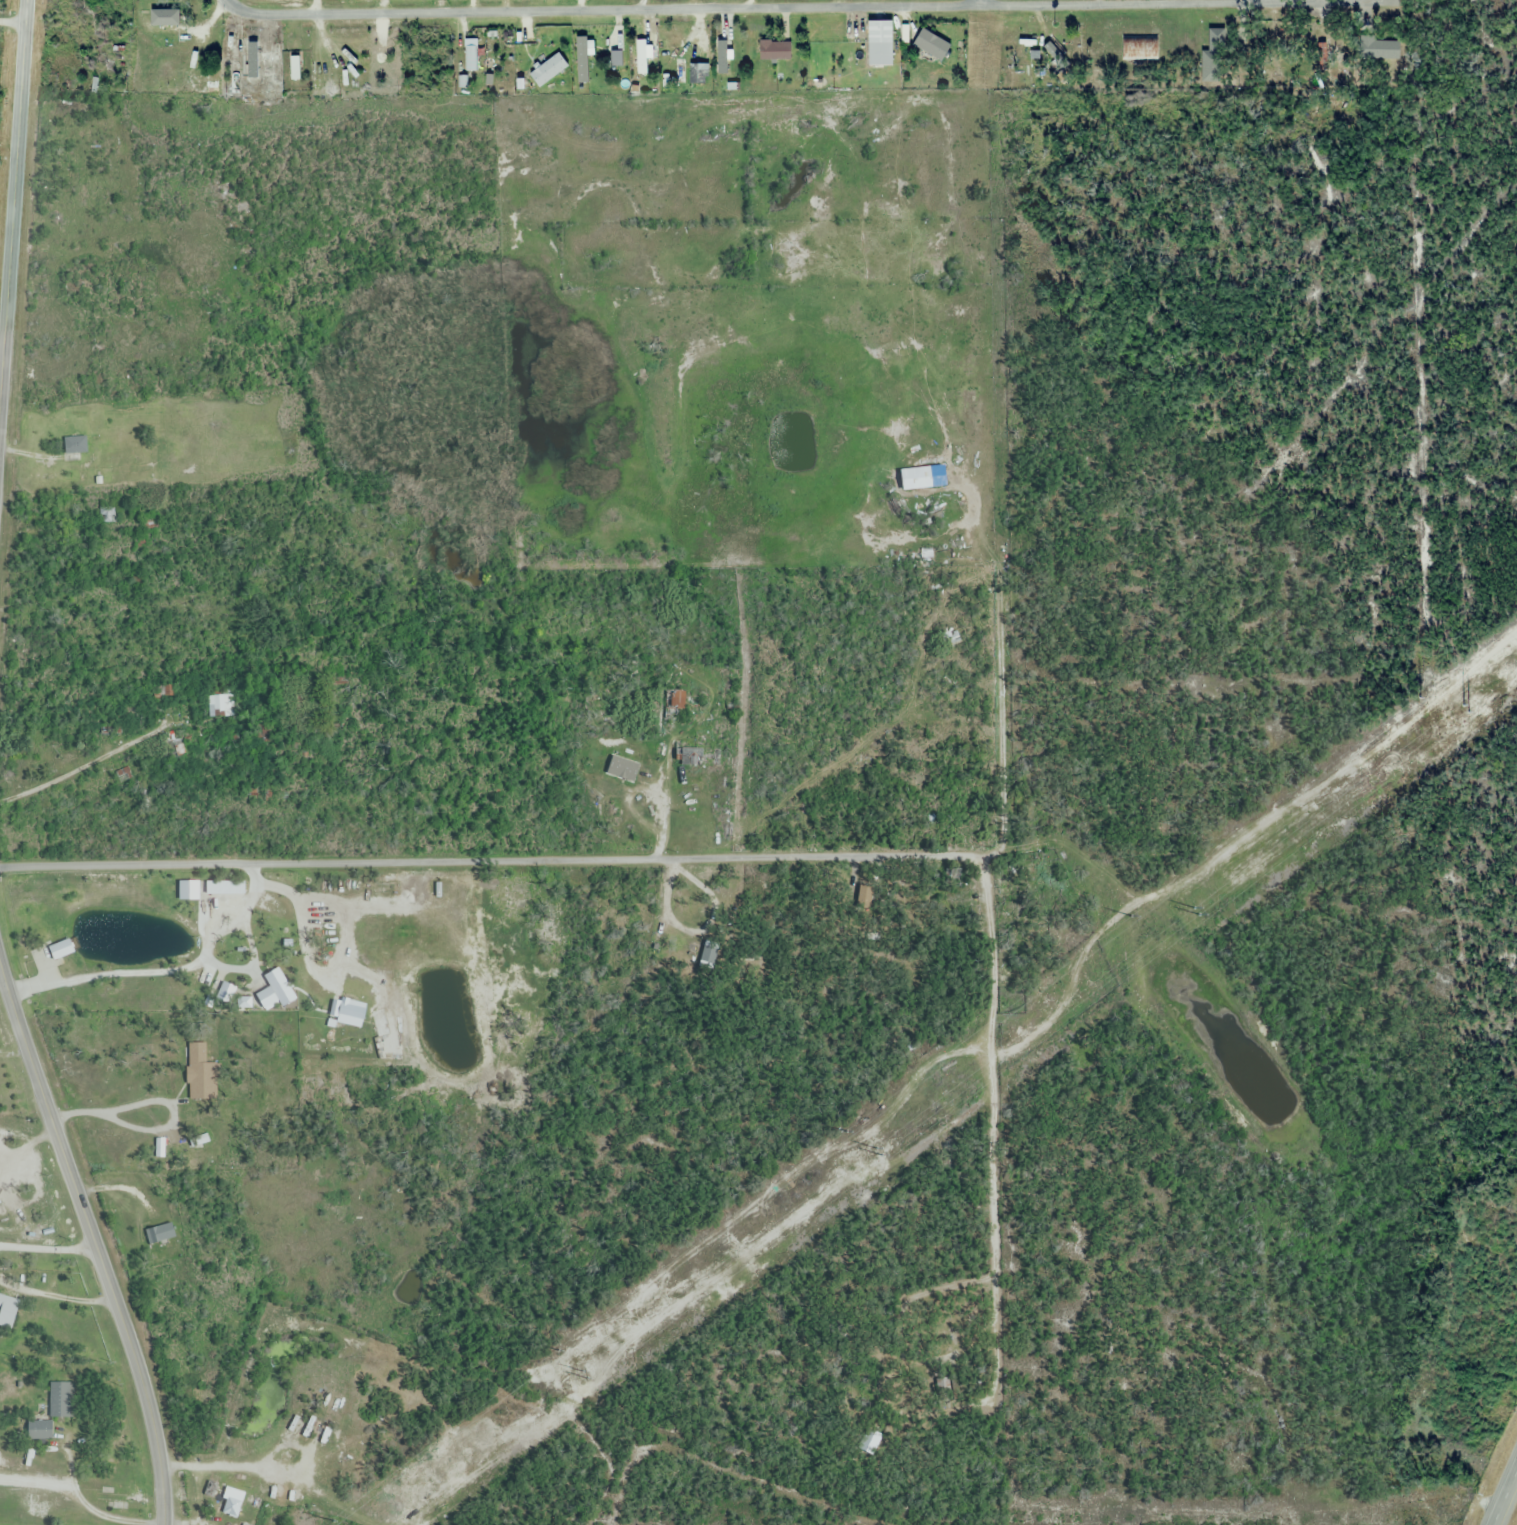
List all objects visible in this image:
road: (227, 1)
road: (979, 2)
road: (800, 7)
building: (163, 16)
road: (12, 22)
building: (1325, 40)
building: (879, 43)
building: (931, 44)
building: (598, 45)
building: (1379, 49)
building: (775, 50)
building: (722, 55)
building: (1214, 56)
building: (268, 58)
building: (645, 60)
building: (294, 67)
building: (547, 69)
building: (166, 71)
building: (316, 73)
road: (12, 235)
road: (4, 330)
building: (75, 446)
building: (674, 706)
power tower: (1446, 722)
building: (697, 757)
road: (487, 860)
building: (225, 889)
building: (188, 891)
road: (297, 918)
power tower: (1158, 941)
road: (202, 946)
building: (60, 950)
road: (107, 969)
building: (275, 992)
building: (201, 1081)
road: (157, 1097)
power tower: (874, 1156)
road: (94, 1232)
building: (160, 1233)
road: (50, 1249)
building: (7, 1311)
power tower: (579, 1380)
building: (62, 1400)
building: (39, 1430)
building: (287, 1442)
road: (221, 1469)
road: (1507, 1502)
building: (232, 1503)
road: (89, 1509)

